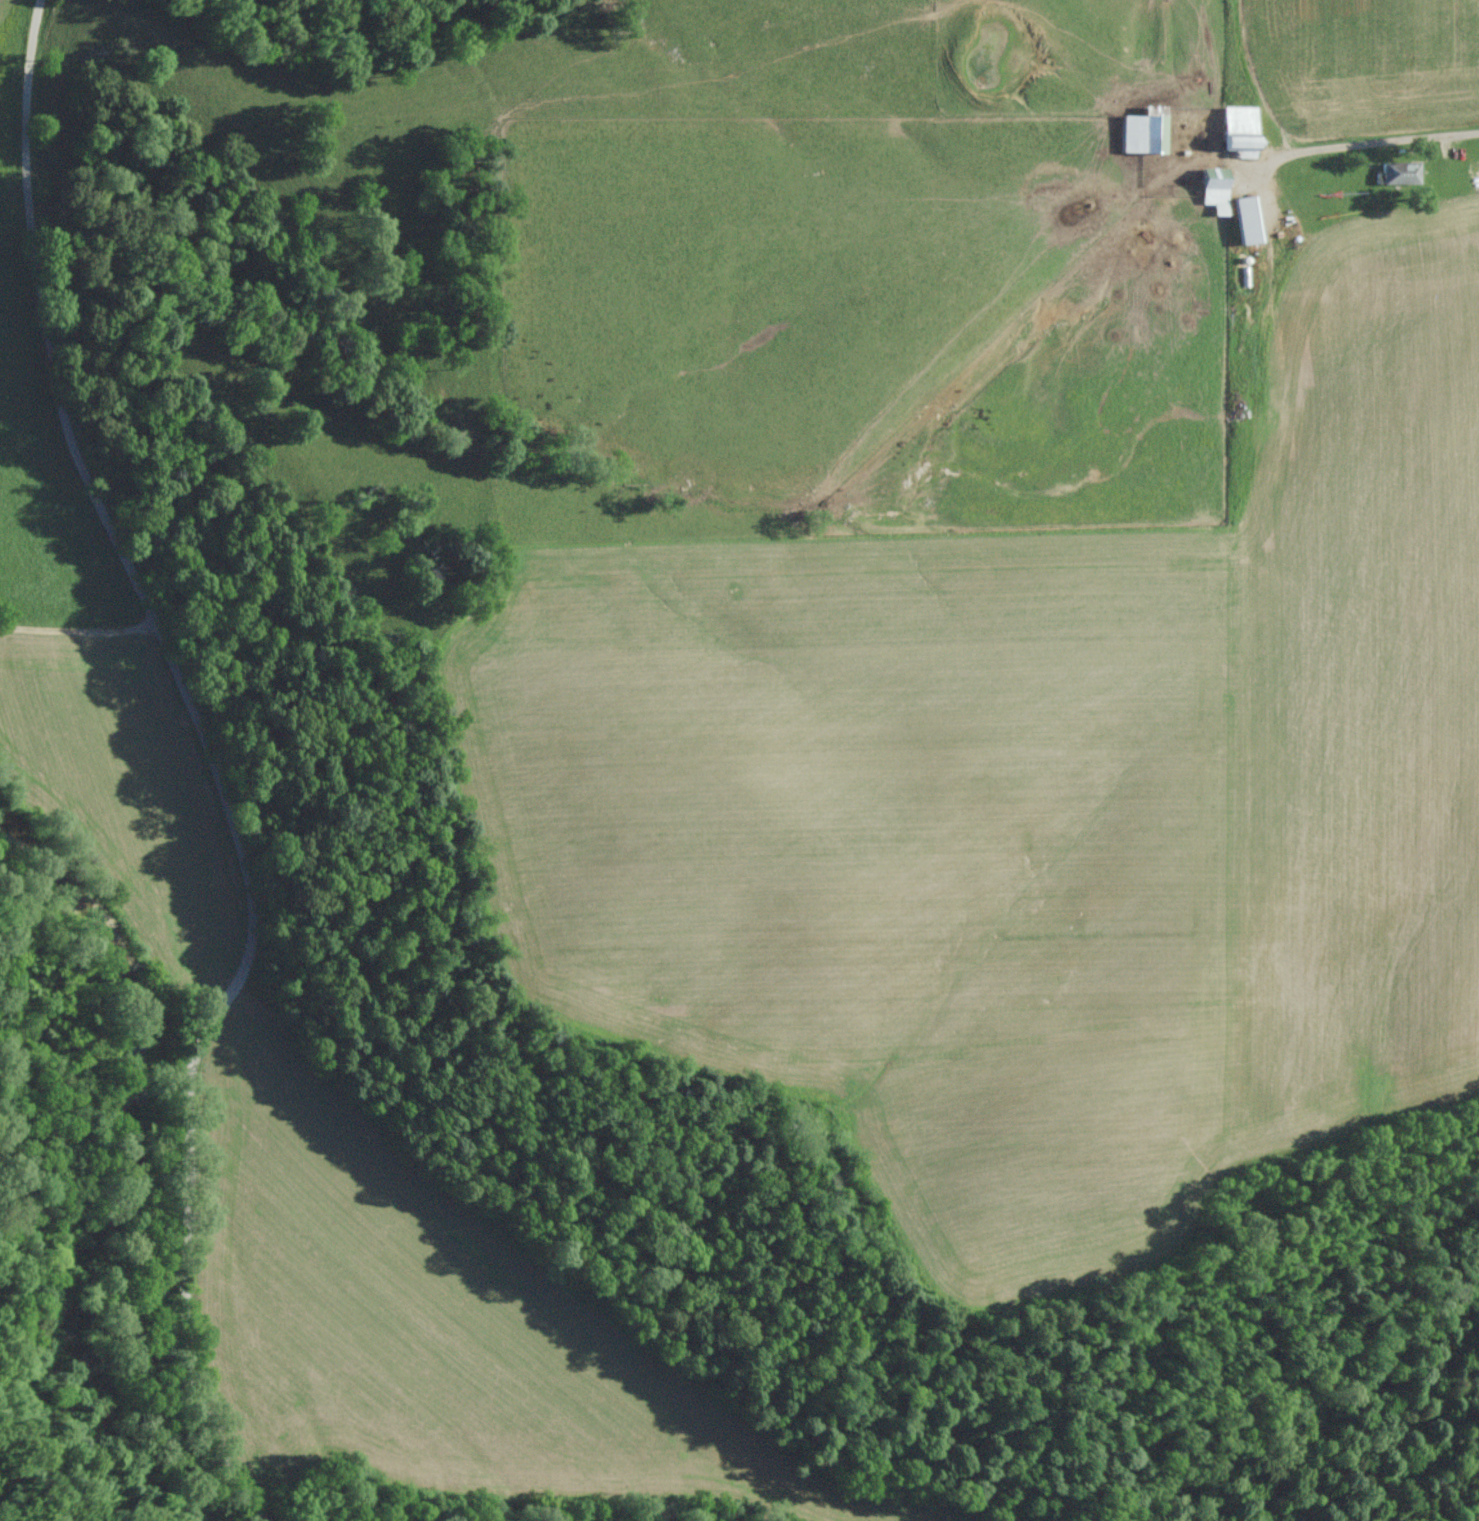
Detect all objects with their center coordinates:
building: (1242, 128)
building: (1145, 131)
building: (1401, 173)
building: (1216, 189)
building: (1247, 220)
road: (88, 636)
road: (237, 751)
road: (252, 1517)

